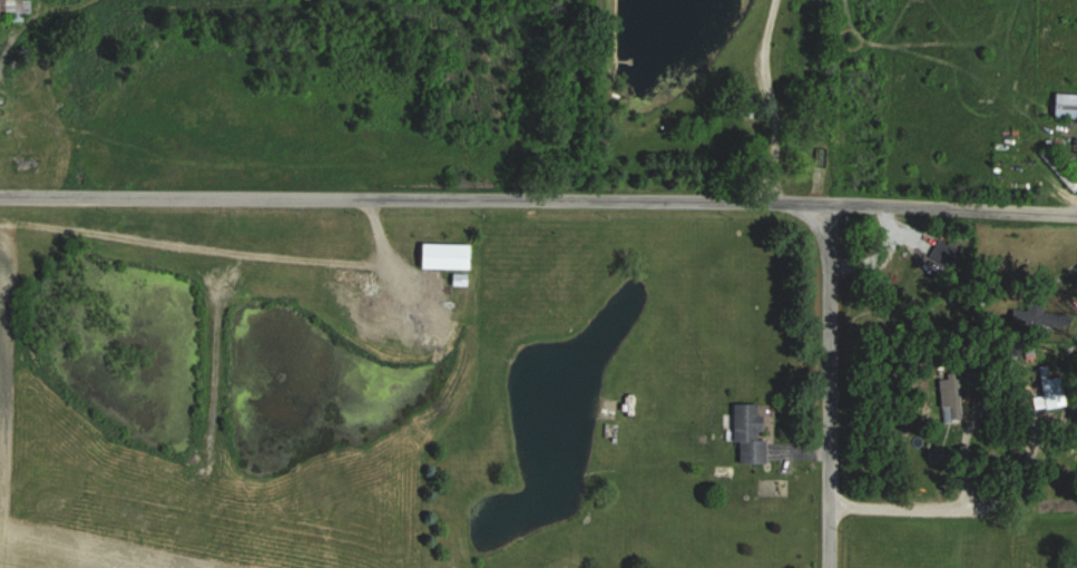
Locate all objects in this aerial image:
building: (19, 6)
road: (764, 102)
building: (1068, 104)
road: (538, 205)
road: (224, 254)
building: (454, 255)
road: (829, 385)
building: (1056, 392)
building: (754, 433)
road: (1025, 466)

